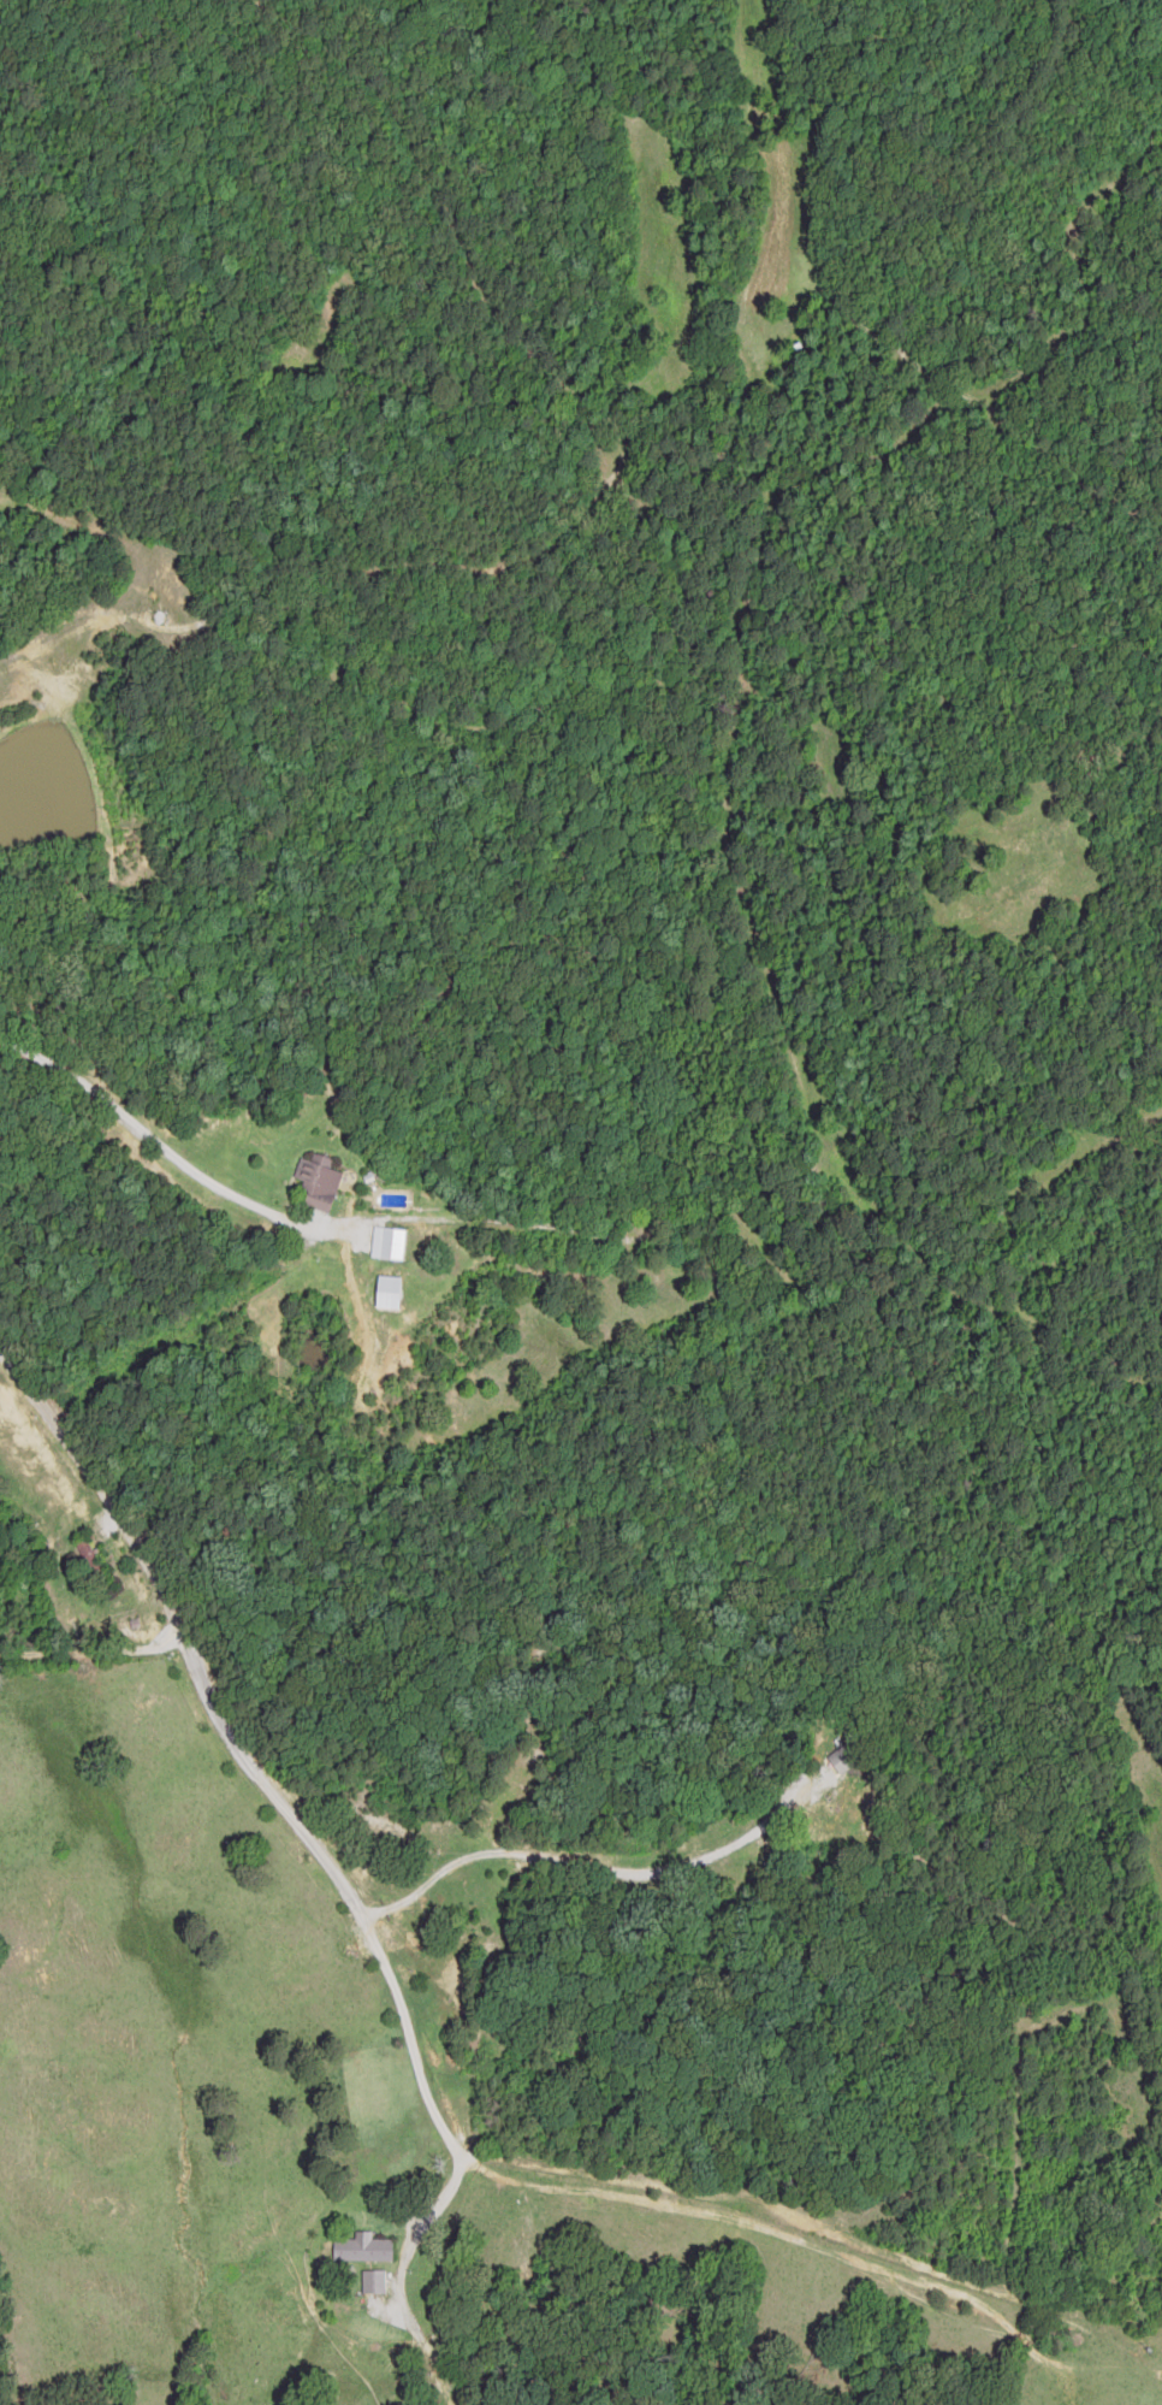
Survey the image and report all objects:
road: (348, 1123)
building: (314, 1181)
building: (369, 1235)
building: (90, 1567)
road: (241, 1660)
building: (362, 2249)

